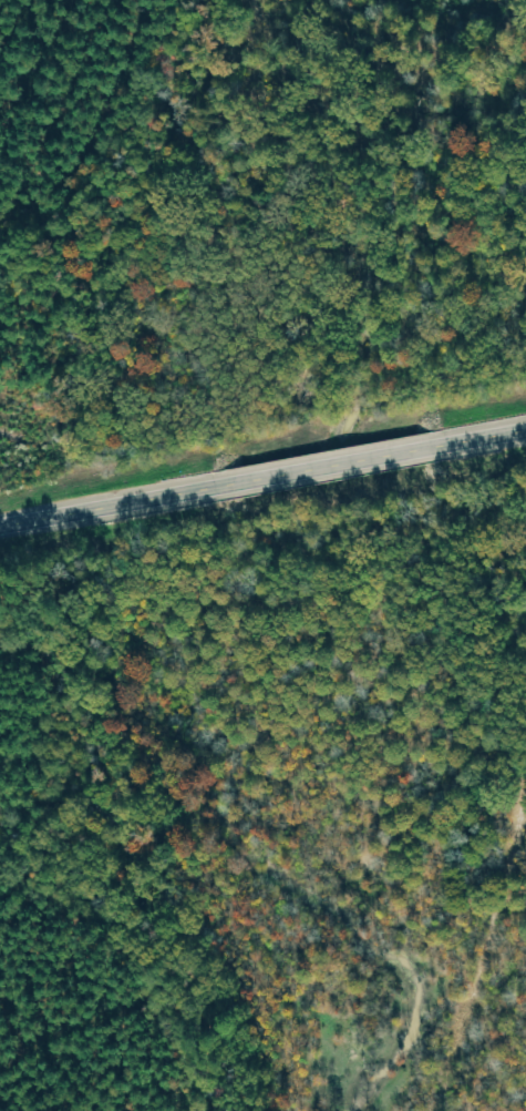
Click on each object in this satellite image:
road: (484, 436)
road: (331, 463)
road: (110, 504)

